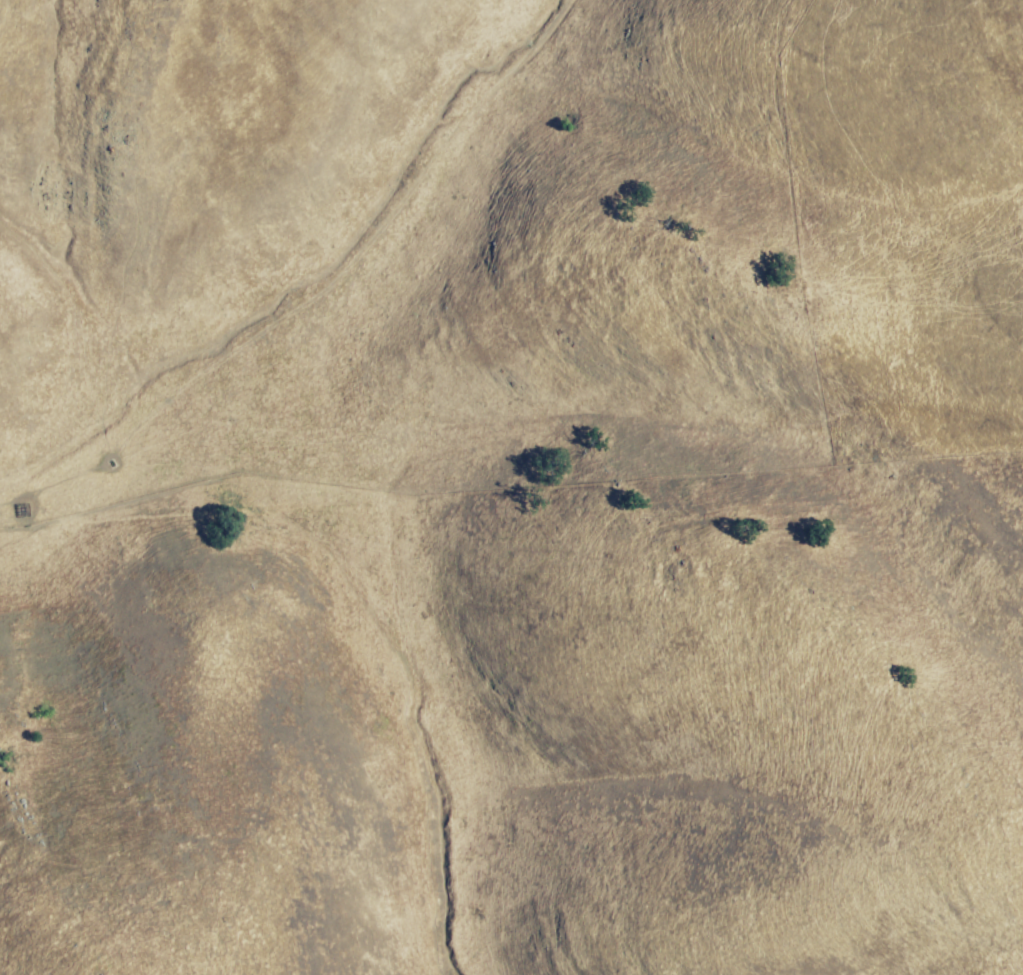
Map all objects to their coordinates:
road: (312, 302)

